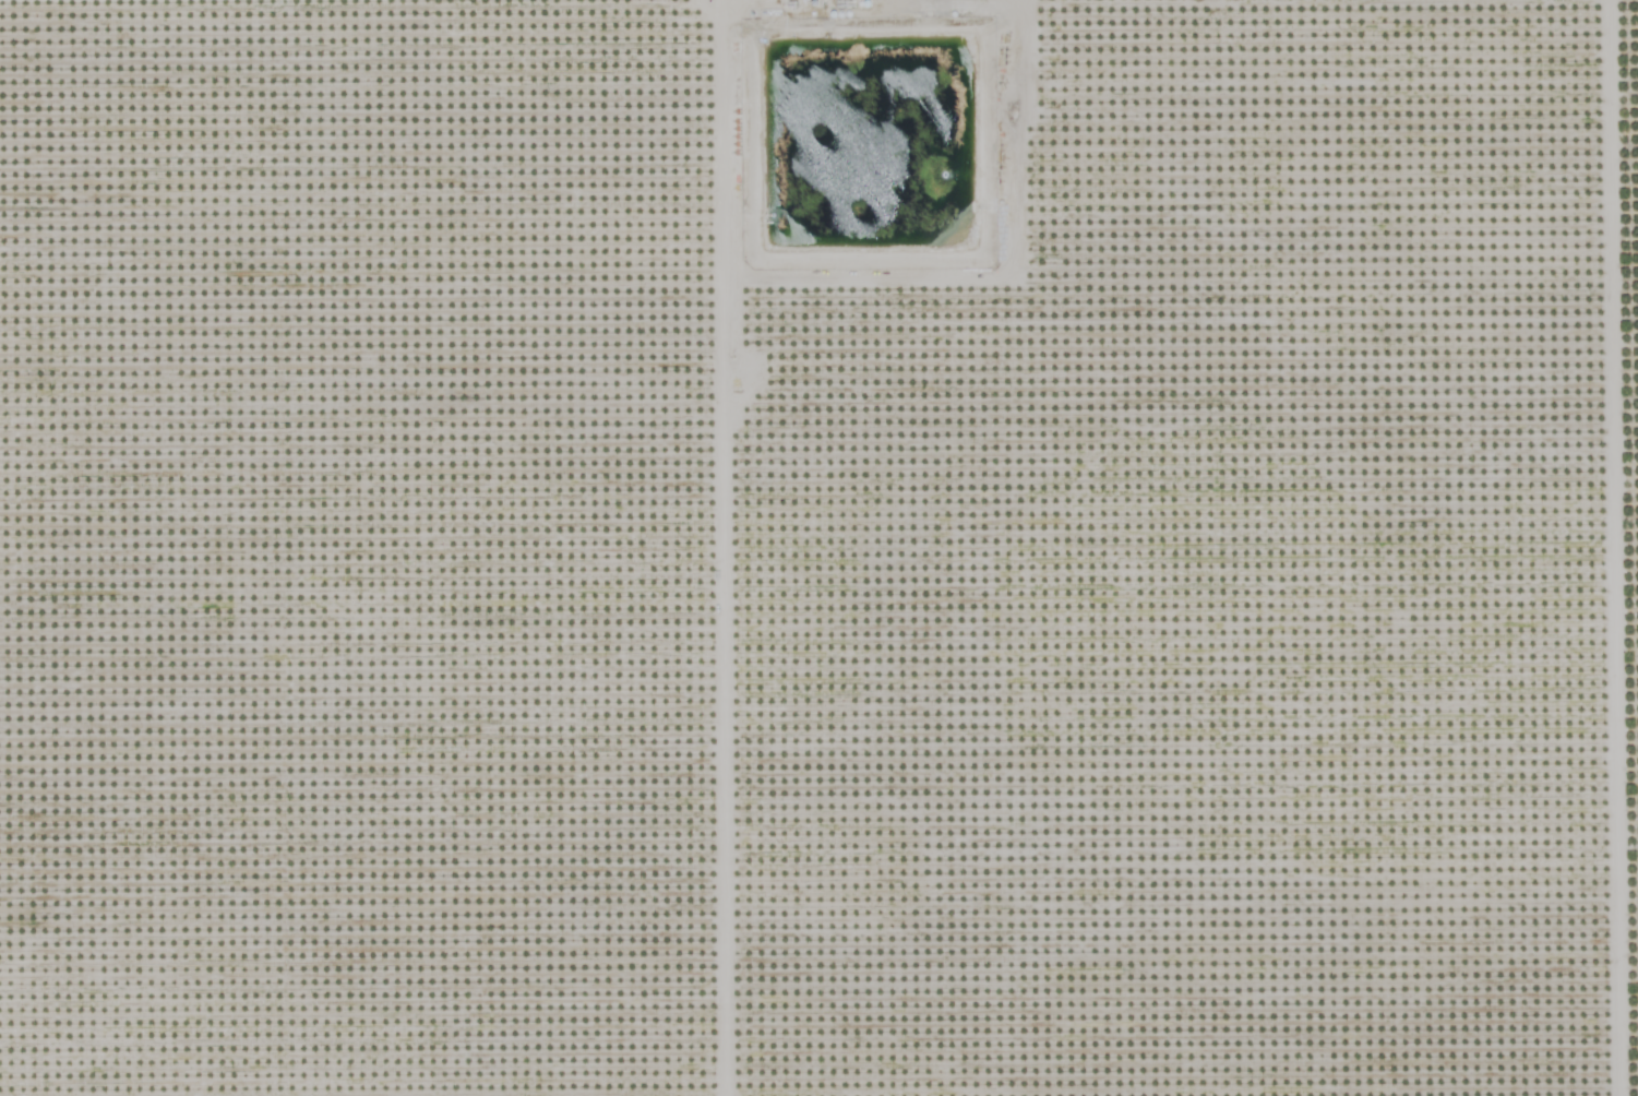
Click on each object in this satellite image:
road: (718, 547)
road: (1618, 548)

